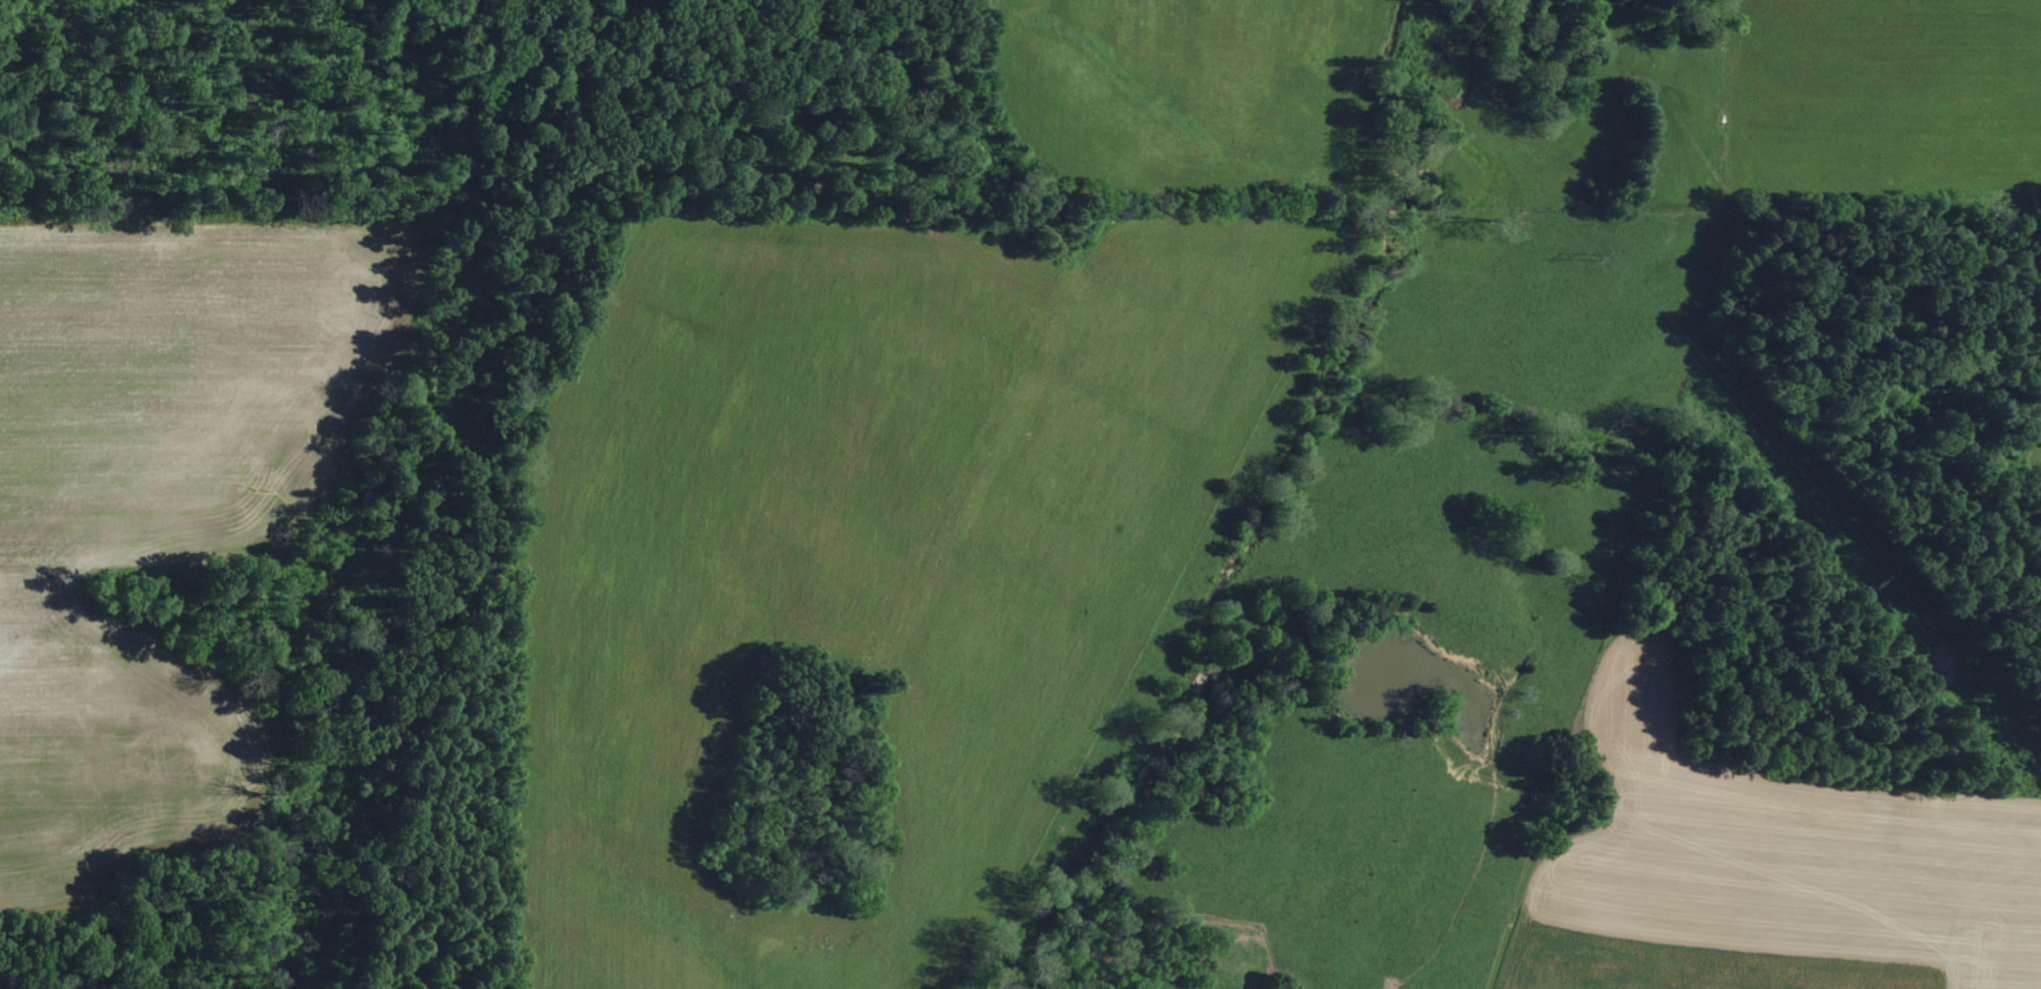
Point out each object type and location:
power tower: (1589, 258)

